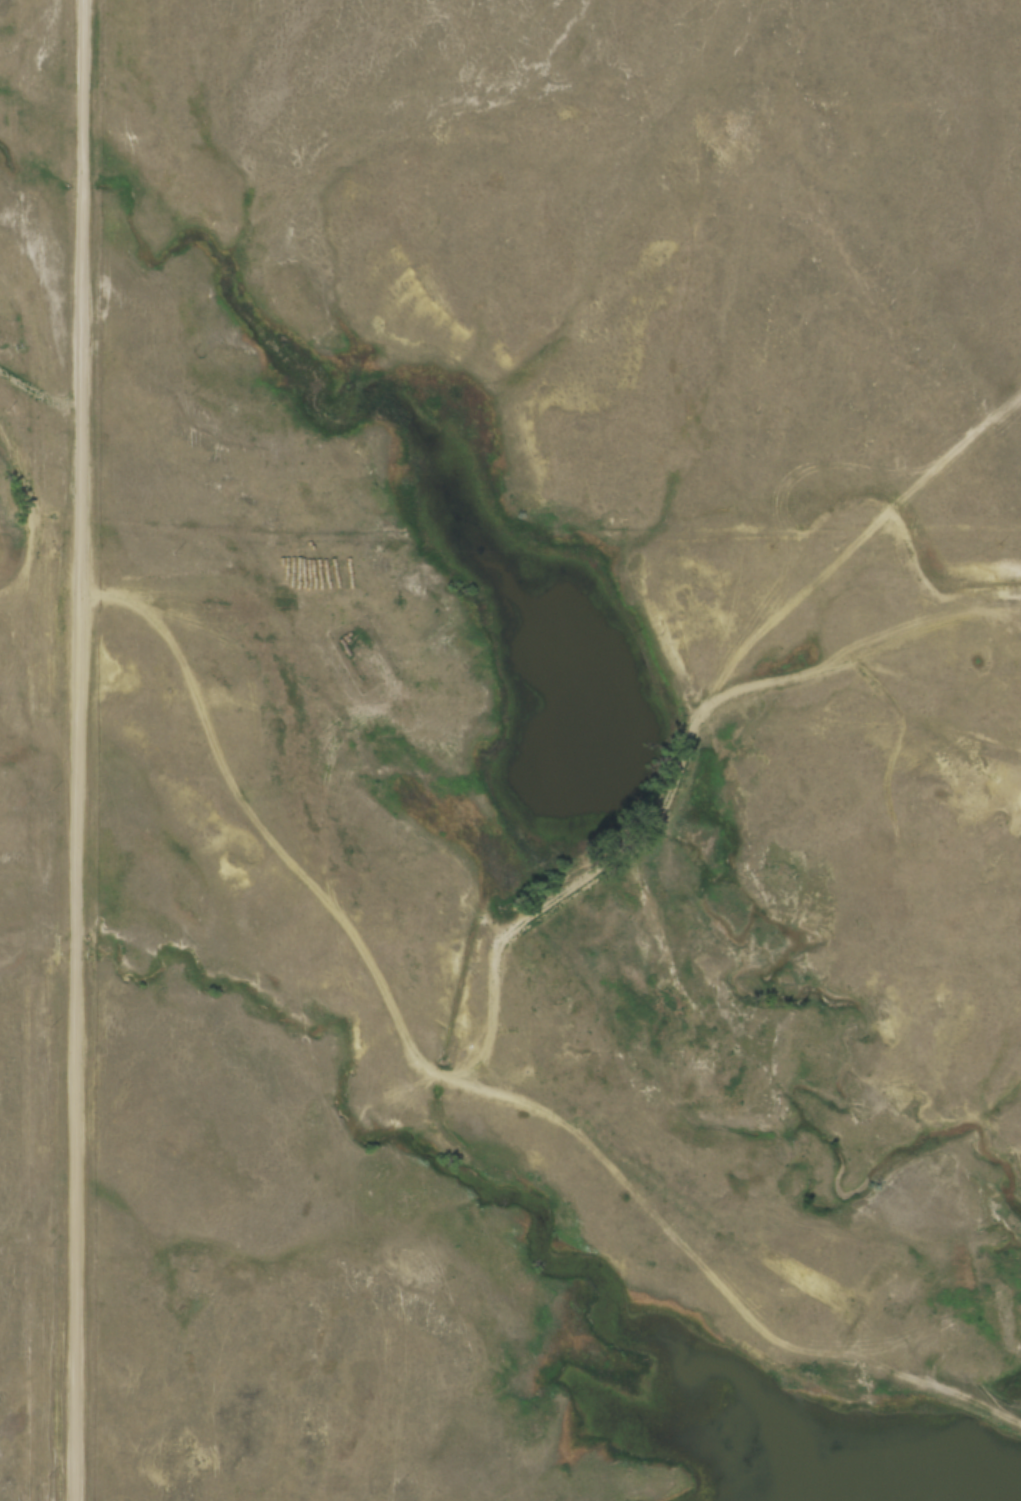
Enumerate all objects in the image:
road: (36, 394)
road: (79, 750)

